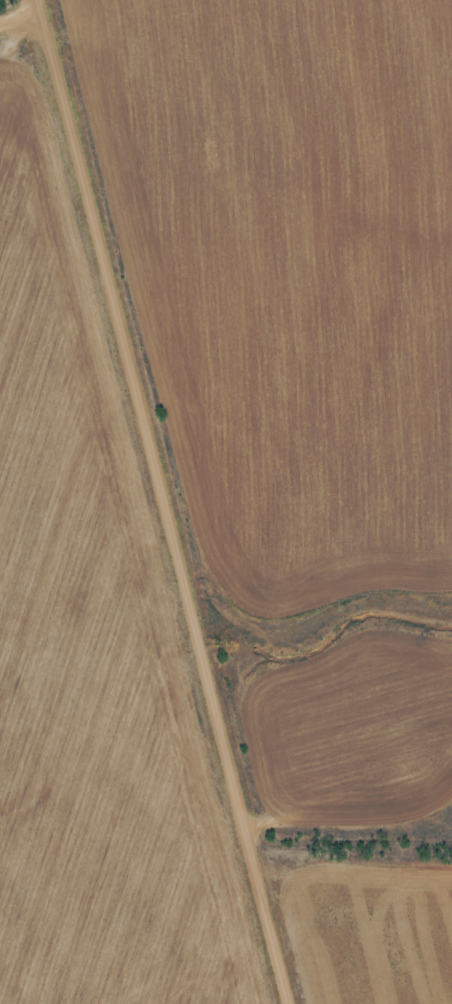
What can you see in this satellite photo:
road: (20, 23)
road: (171, 504)

